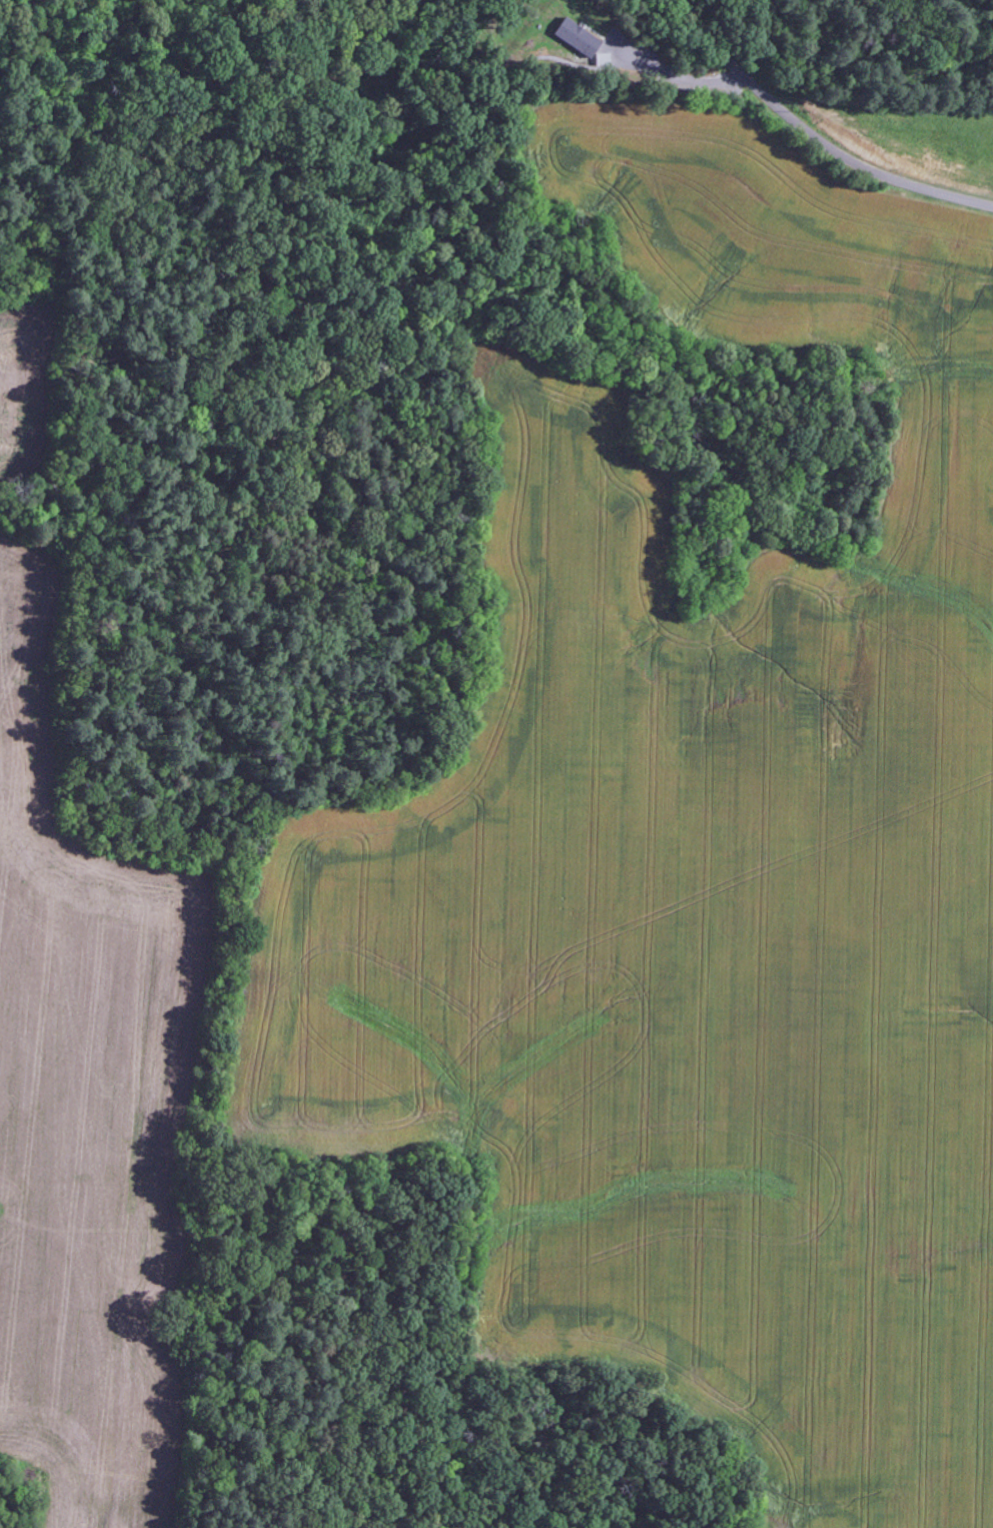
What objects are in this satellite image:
building: (574, 38)
road: (815, 136)

